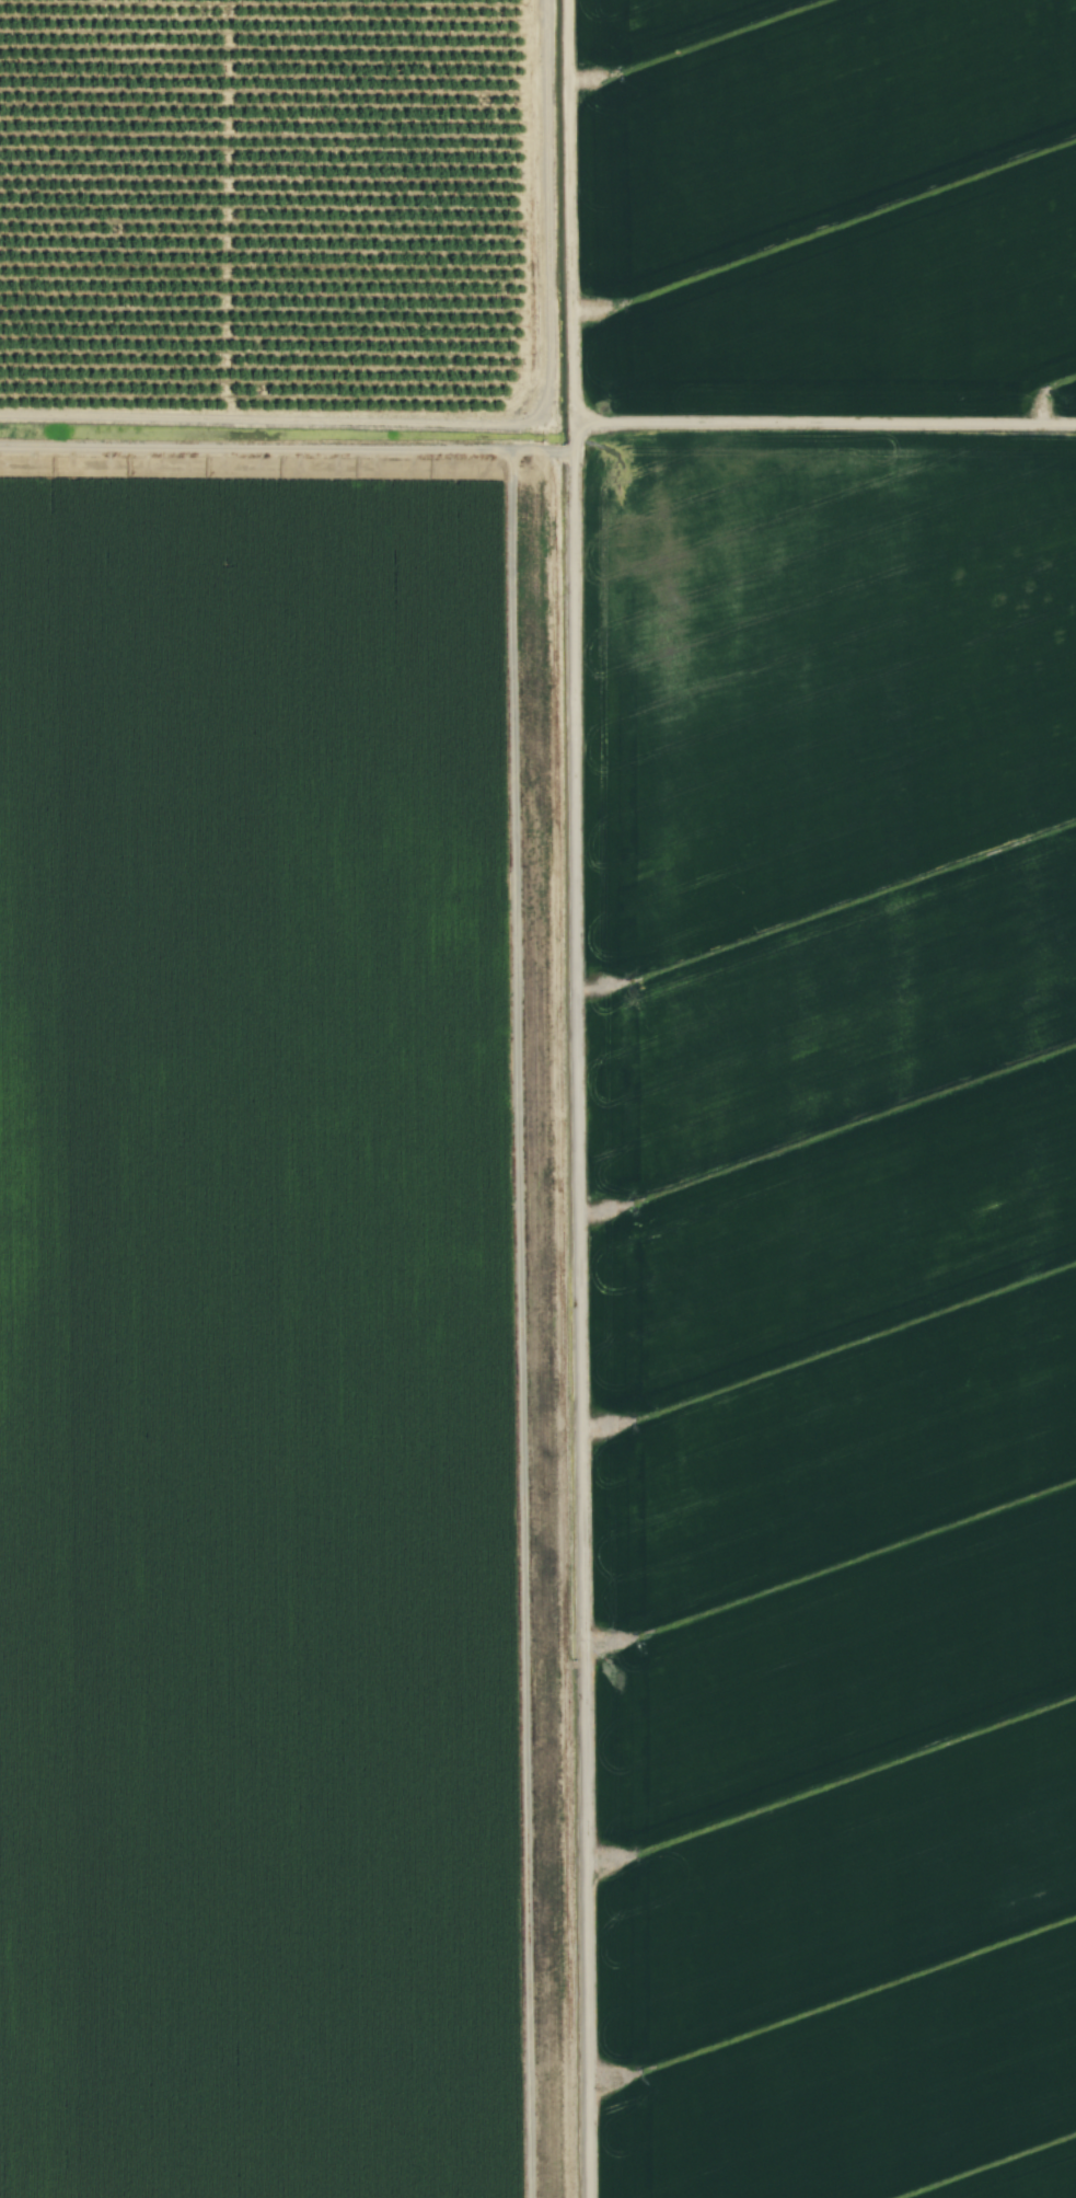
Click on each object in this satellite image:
road: (537, 423)

